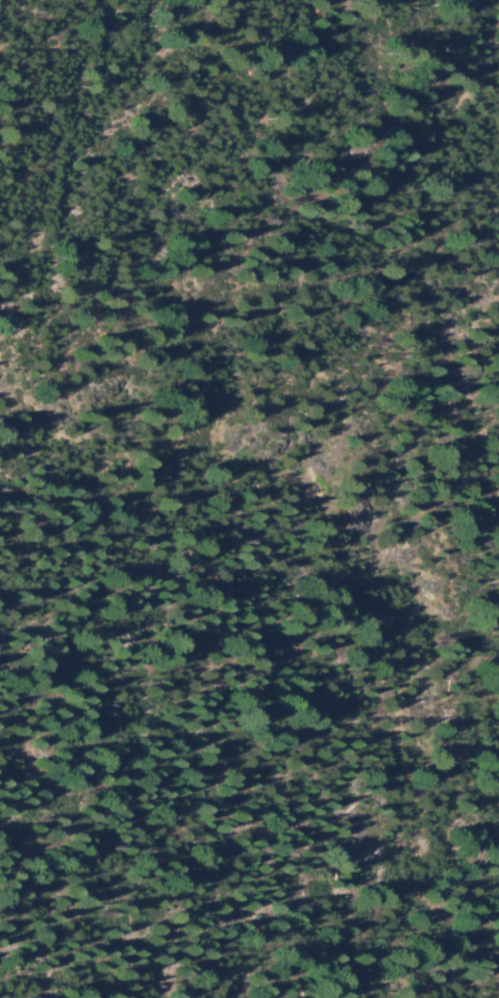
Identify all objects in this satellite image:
road: (5, 436)
road: (332, 617)

